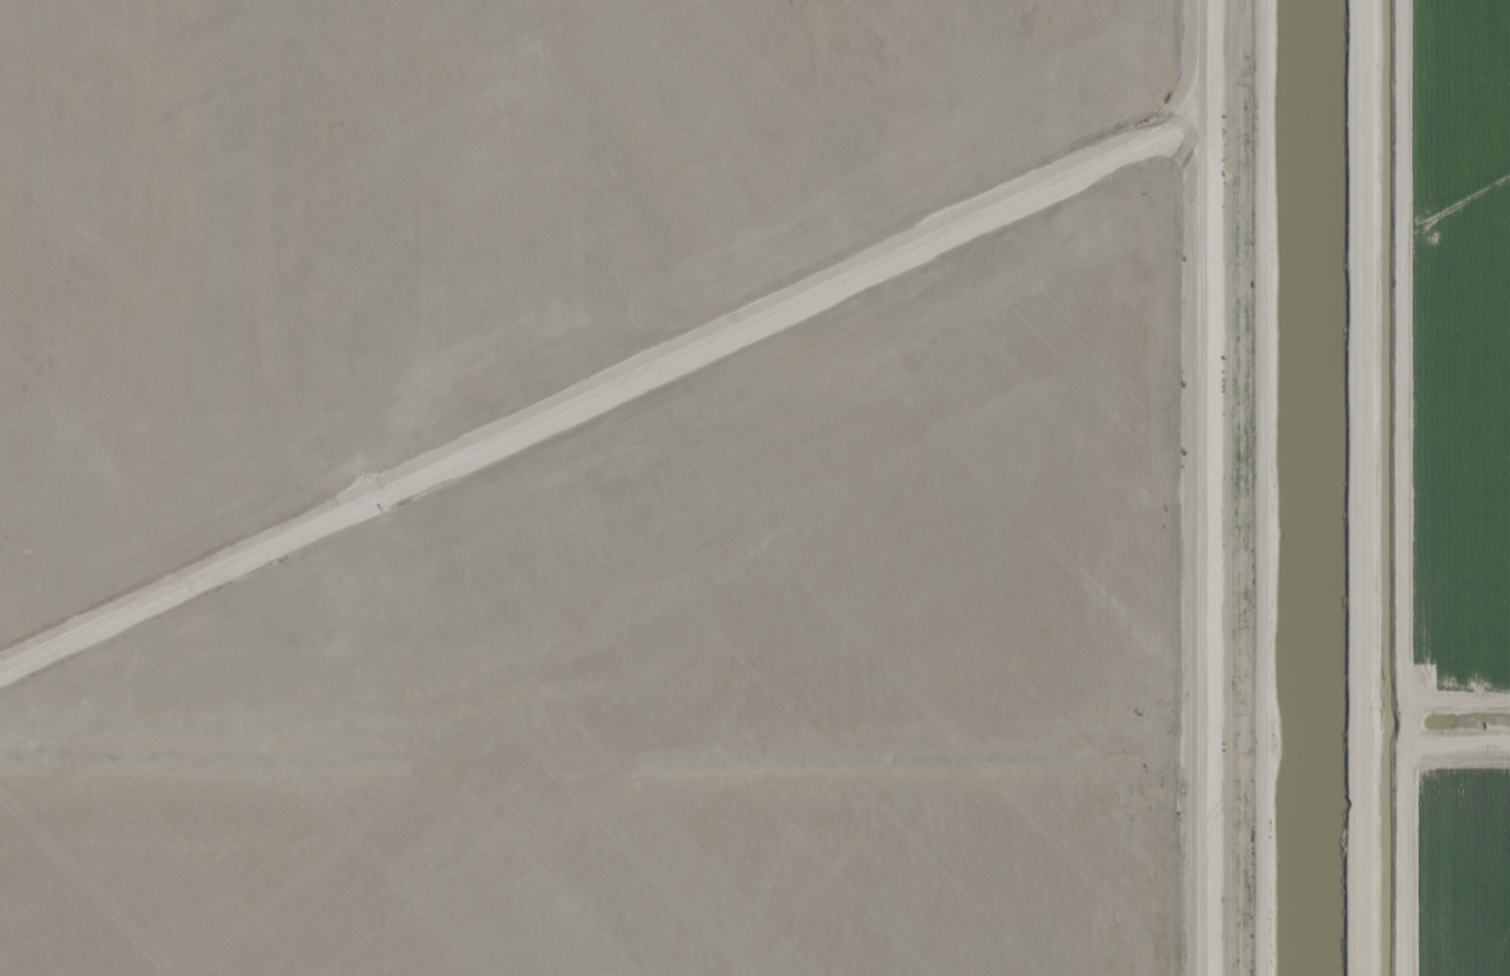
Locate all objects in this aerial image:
road: (1336, 488)
road: (1449, 703)

